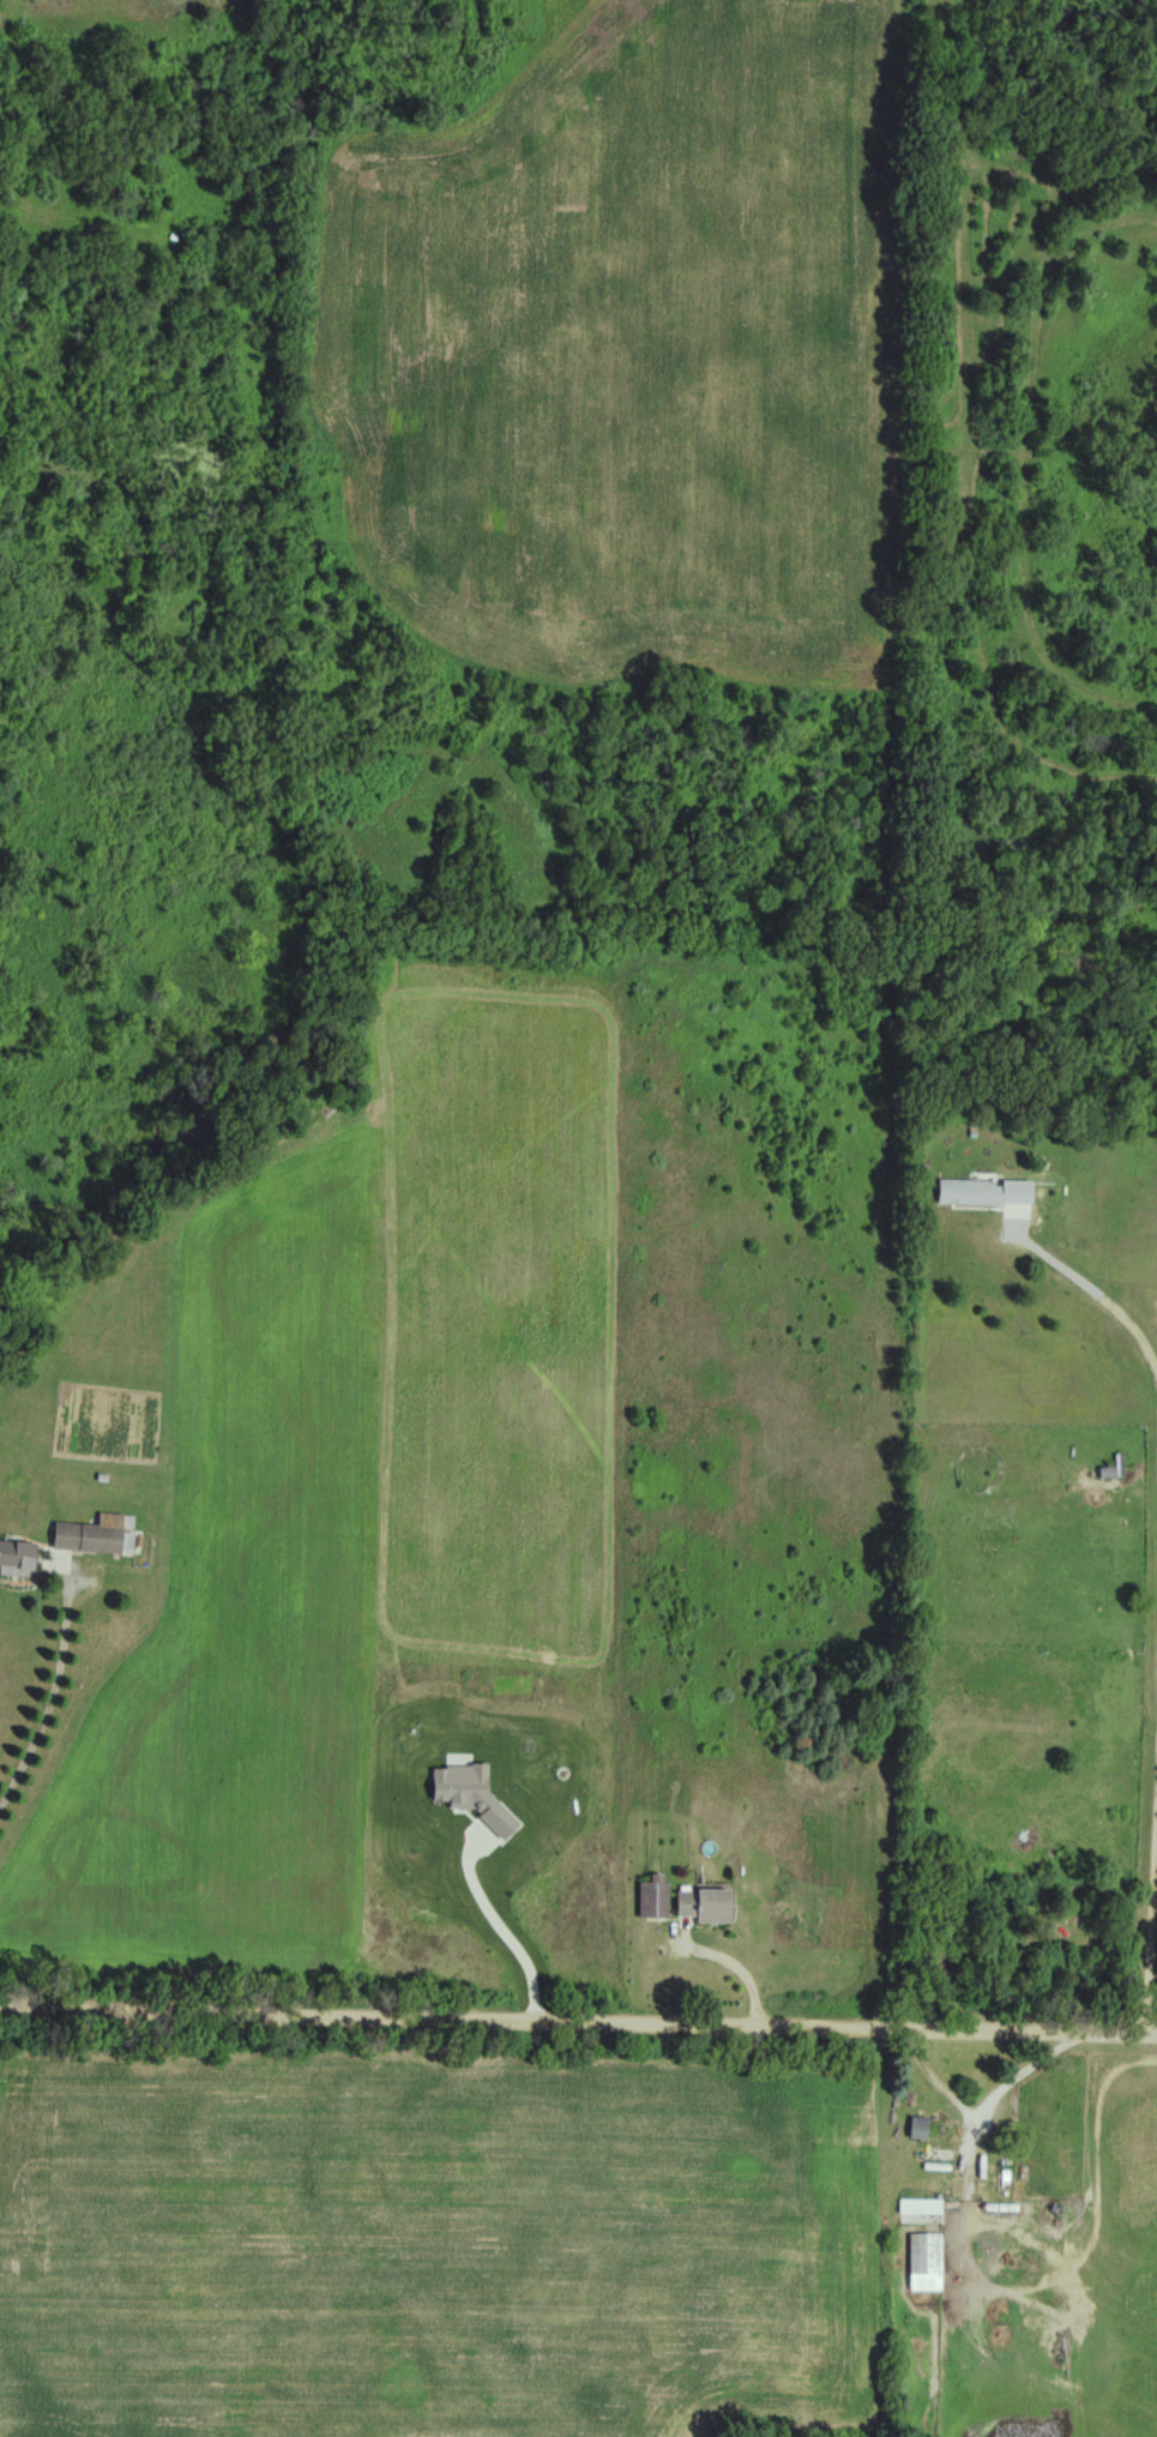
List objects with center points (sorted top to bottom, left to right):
building: (958, 1191)
road: (1091, 1290)
building: (92, 1534)
building: (19, 1557)
road: (43, 1696)
road: (1155, 1824)
building: (655, 1896)
building: (710, 1905)
road: (493, 1926)
road: (721, 1970)
road: (578, 2020)
building: (983, 2162)
building: (921, 2206)
building: (926, 2262)

